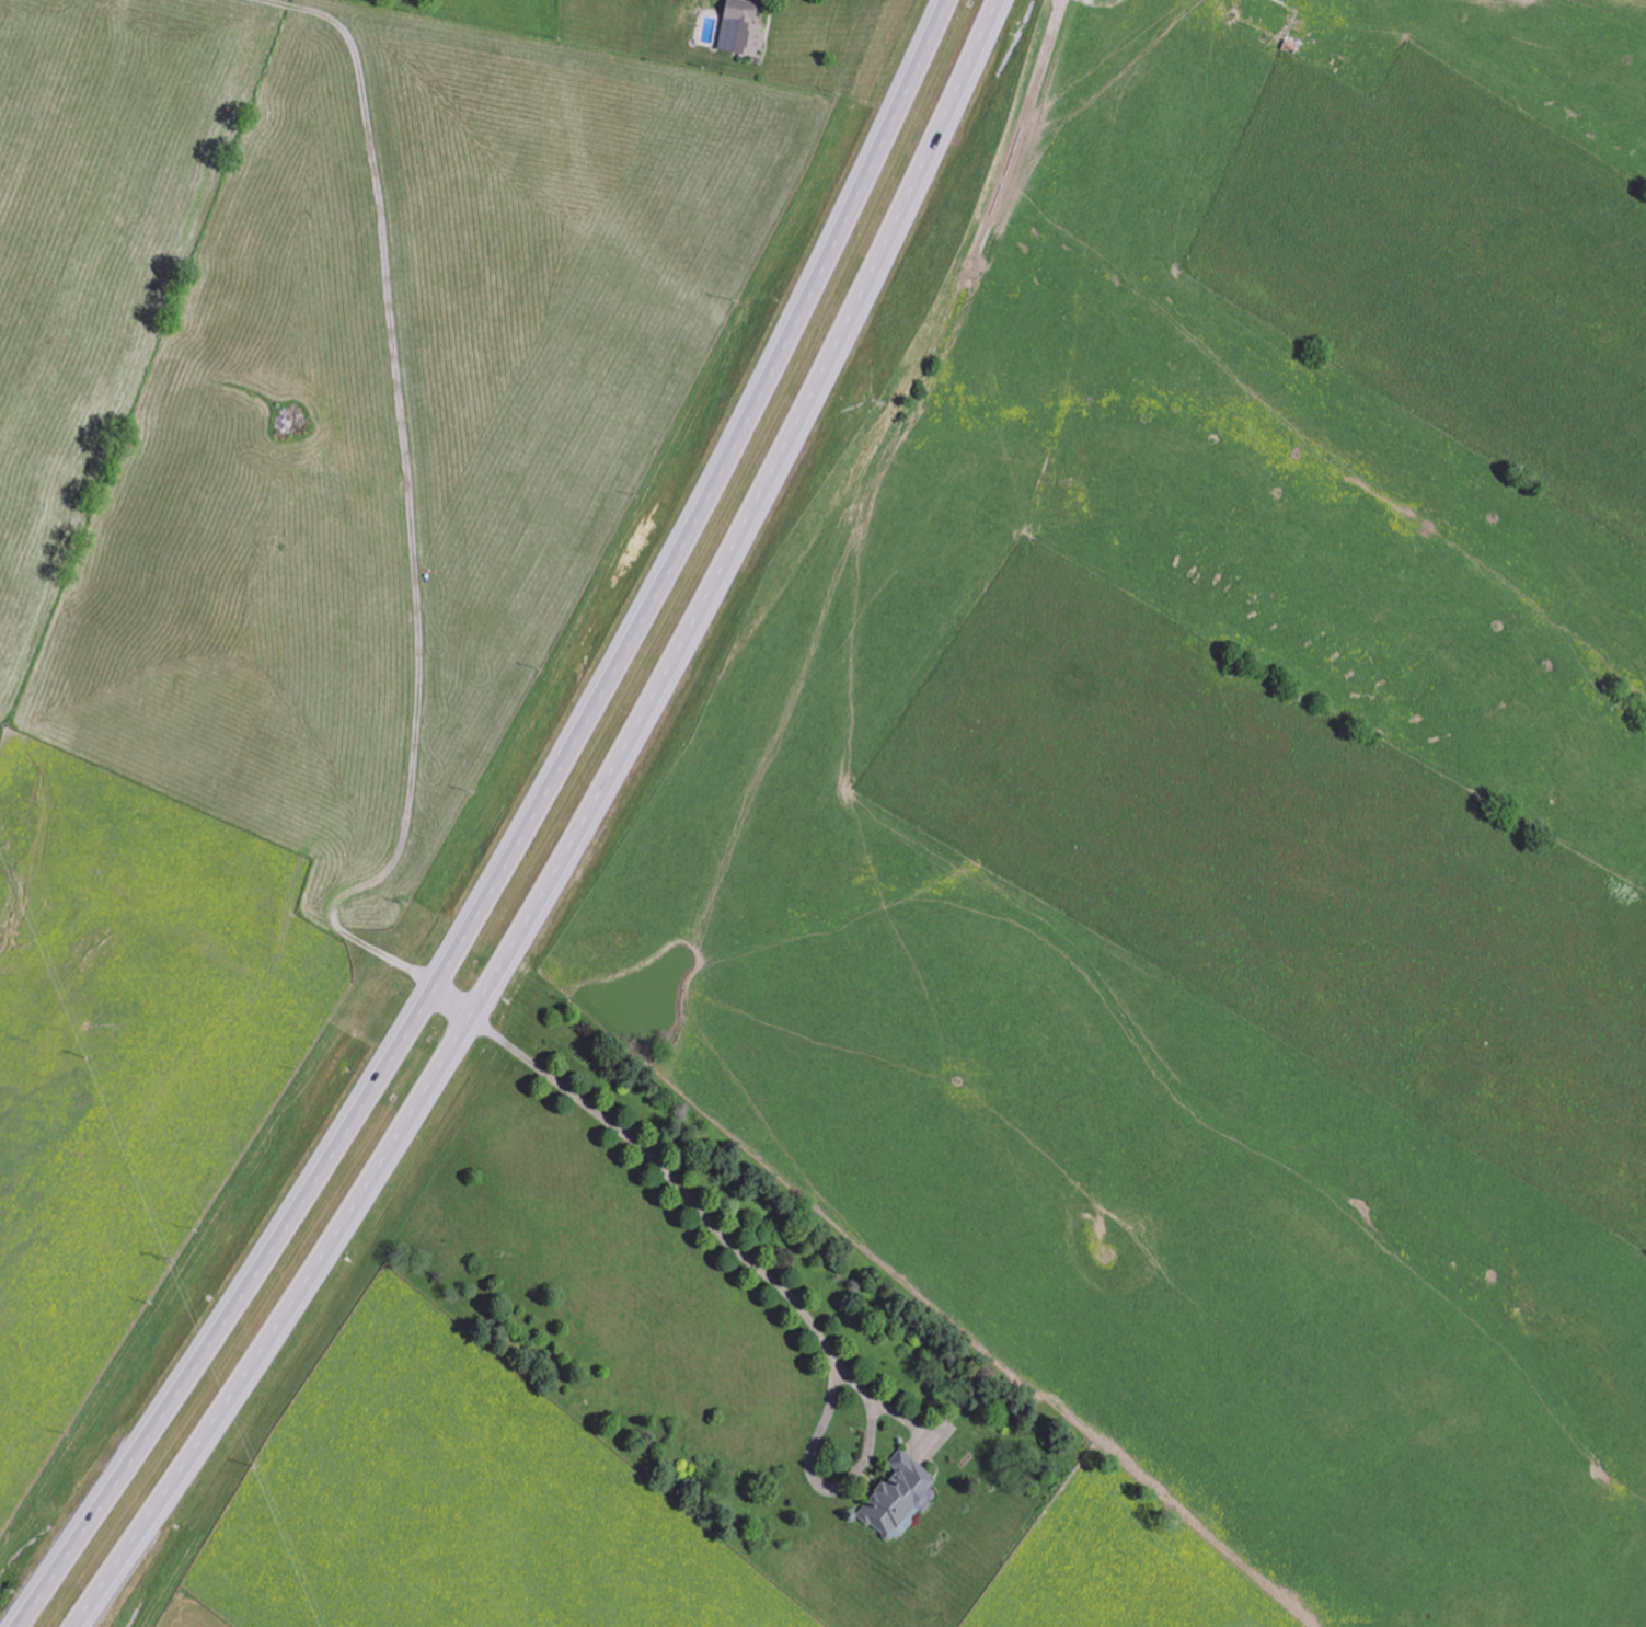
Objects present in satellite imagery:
building: (741, 28)
road: (531, 829)
road: (599, 837)
road: (459, 1007)
road: (706, 1228)
building: (897, 1493)

